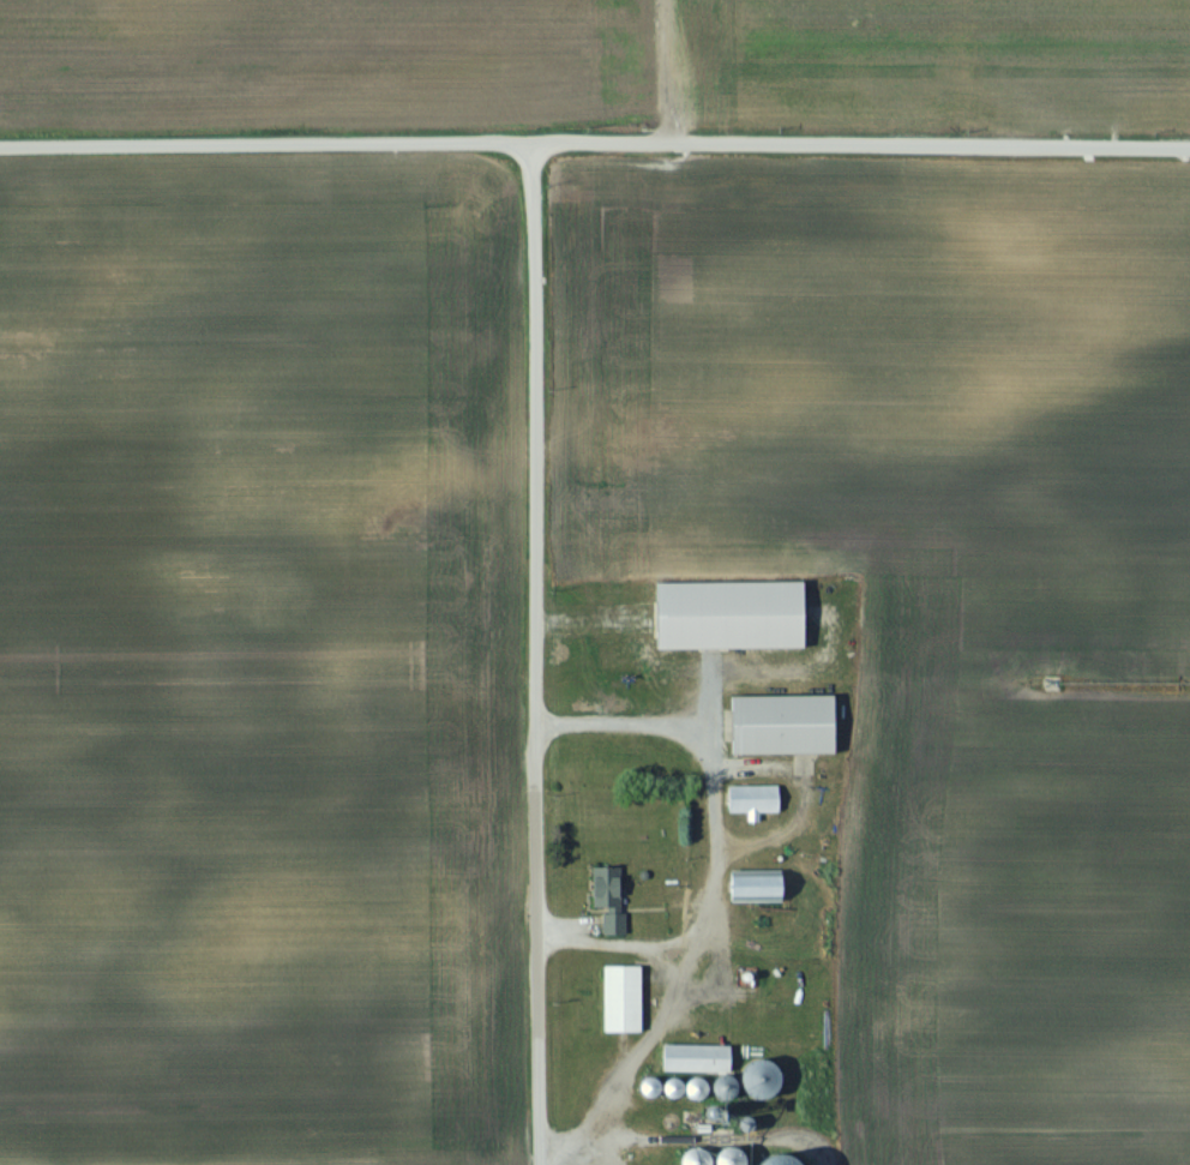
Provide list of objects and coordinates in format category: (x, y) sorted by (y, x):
road: (661, 71)
road: (595, 143)
road: (534, 654)
building: (780, 726)
building: (751, 800)
building: (751, 887)
building: (605, 888)
building: (612, 924)
road: (606, 932)
road: (668, 974)
building: (619, 999)
building: (693, 1059)
building: (757, 1080)

